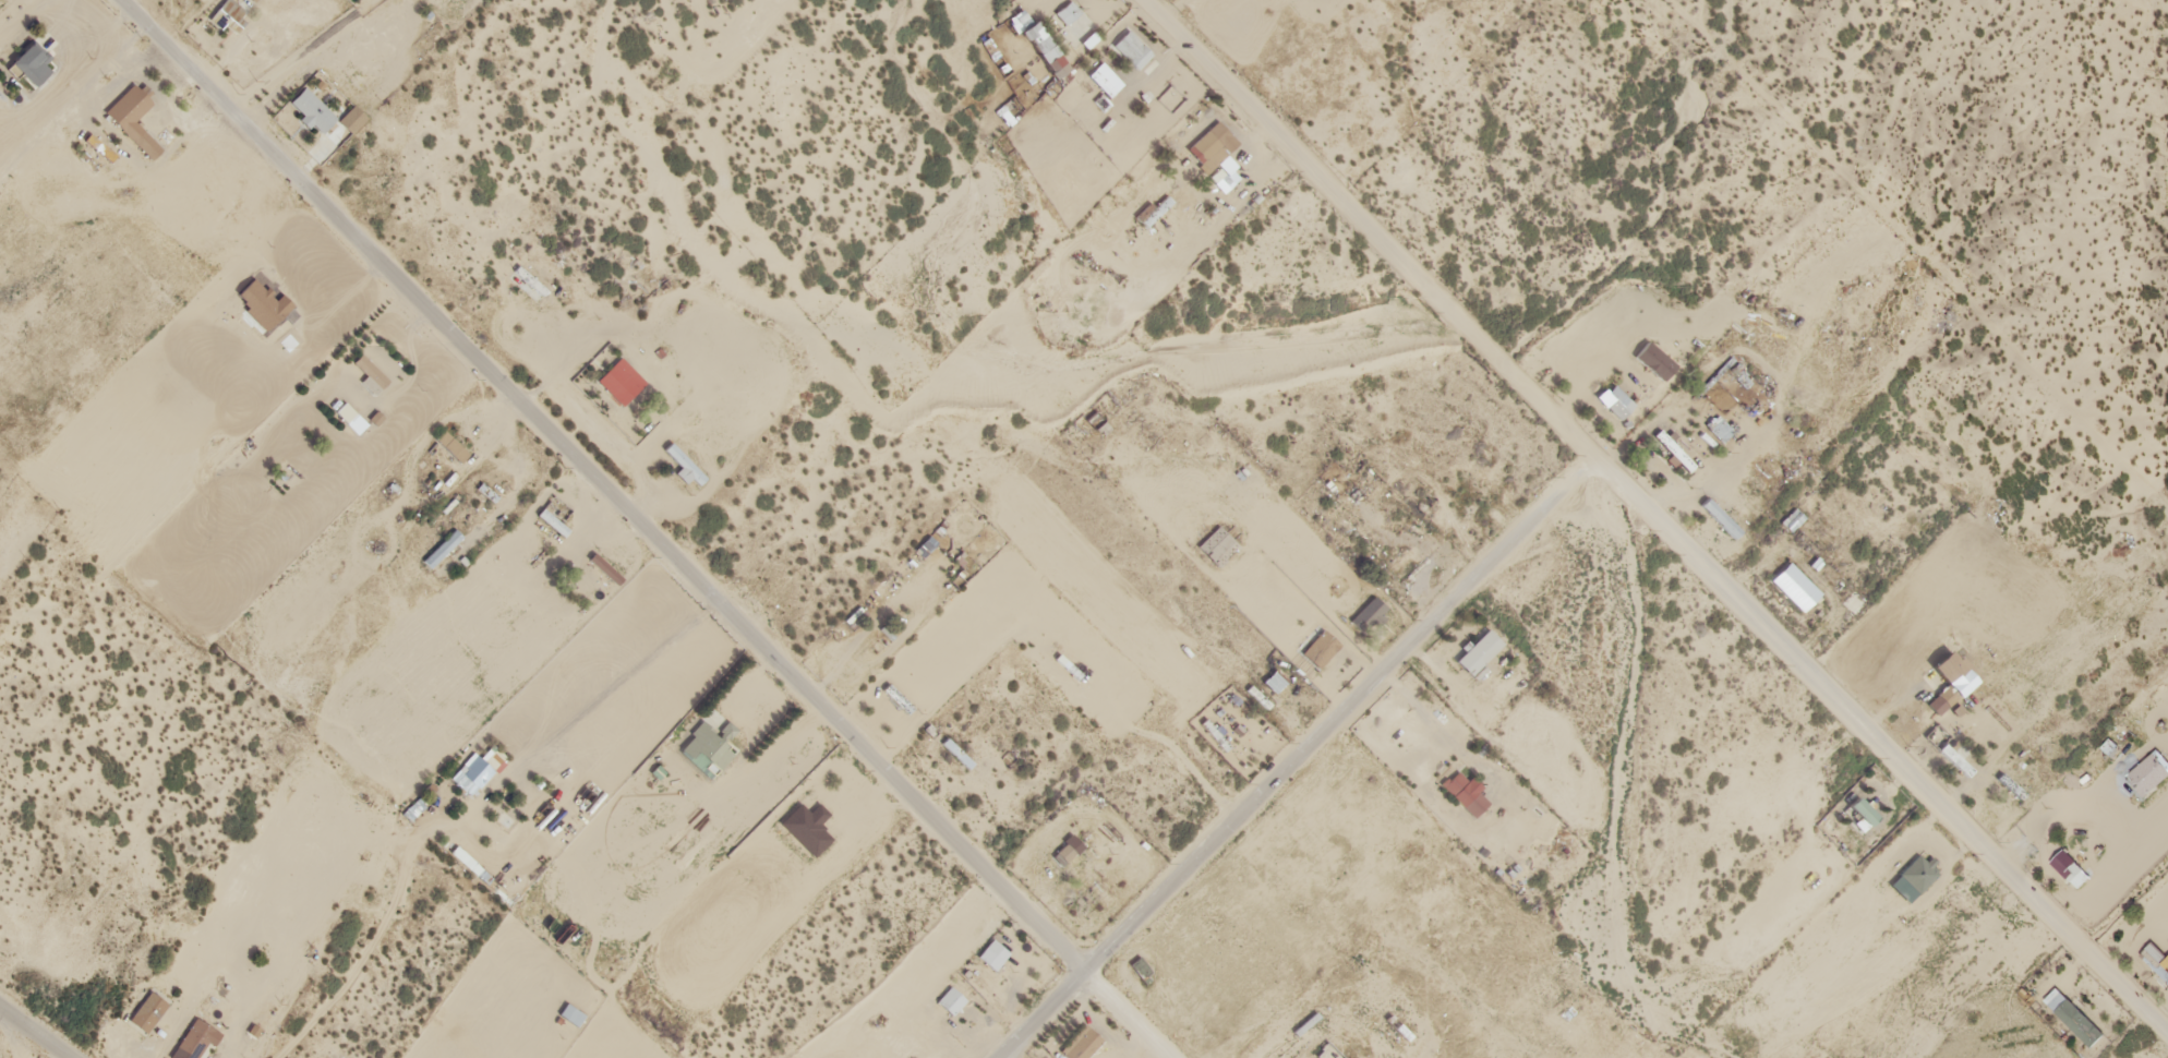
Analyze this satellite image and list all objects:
building: (225, 11)
building: (1068, 12)
building: (1036, 33)
building: (1133, 48)
building: (36, 58)
building: (313, 109)
building: (132, 110)
building: (1008, 111)
building: (1214, 142)
building: (1156, 207)
building: (262, 299)
building: (1763, 342)
building: (1653, 363)
building: (619, 374)
building: (352, 416)
building: (1814, 419)
building: (686, 464)
road: (599, 489)
road: (1647, 520)
building: (1719, 521)
building: (1792, 522)
building: (1219, 543)
building: (442, 548)
building: (1407, 567)
building: (1795, 590)
building: (1369, 616)
building: (1320, 651)
building: (1479, 656)
building: (1273, 684)
building: (1950, 685)
building: (949, 744)
building: (709, 746)
road: (1299, 762)
building: (474, 771)
building: (2149, 777)
building: (1465, 795)
building: (1862, 814)
building: (1079, 855)
building: (2067, 868)
building: (1915, 880)
building: (990, 954)
building: (2155, 965)
building: (952, 997)
building: (149, 1008)
road: (1123, 1018)
building: (2079, 1025)
road: (36, 1031)
building: (198, 1035)

